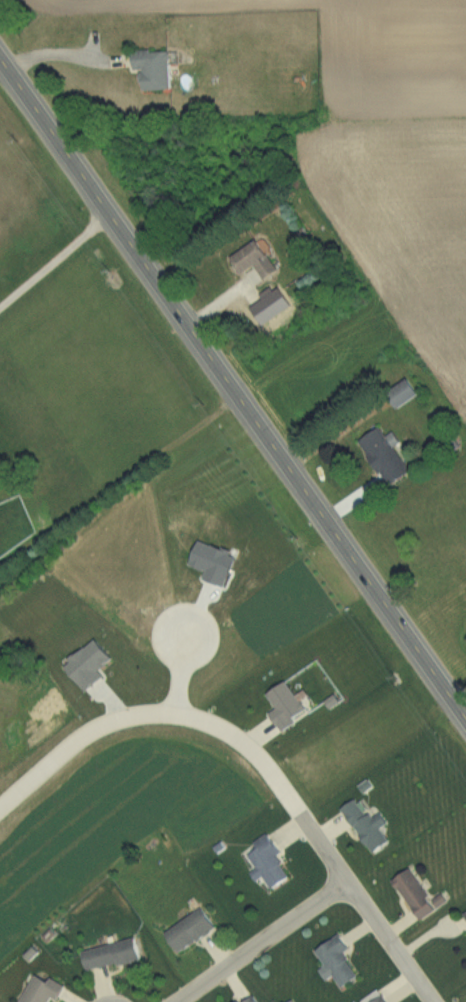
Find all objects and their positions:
road: (57, 54)
building: (157, 69)
crop: (388, 157)
road: (55, 259)
building: (258, 259)
road: (233, 389)
building: (386, 457)
road: (177, 673)
road: (154, 712)
building: (370, 826)
building: (271, 864)
building: (420, 895)
road: (366, 906)
building: (194, 930)
road: (252, 938)
building: (113, 955)
building: (340, 962)
building: (43, 990)
building: (254, 999)
building: (384, 999)

